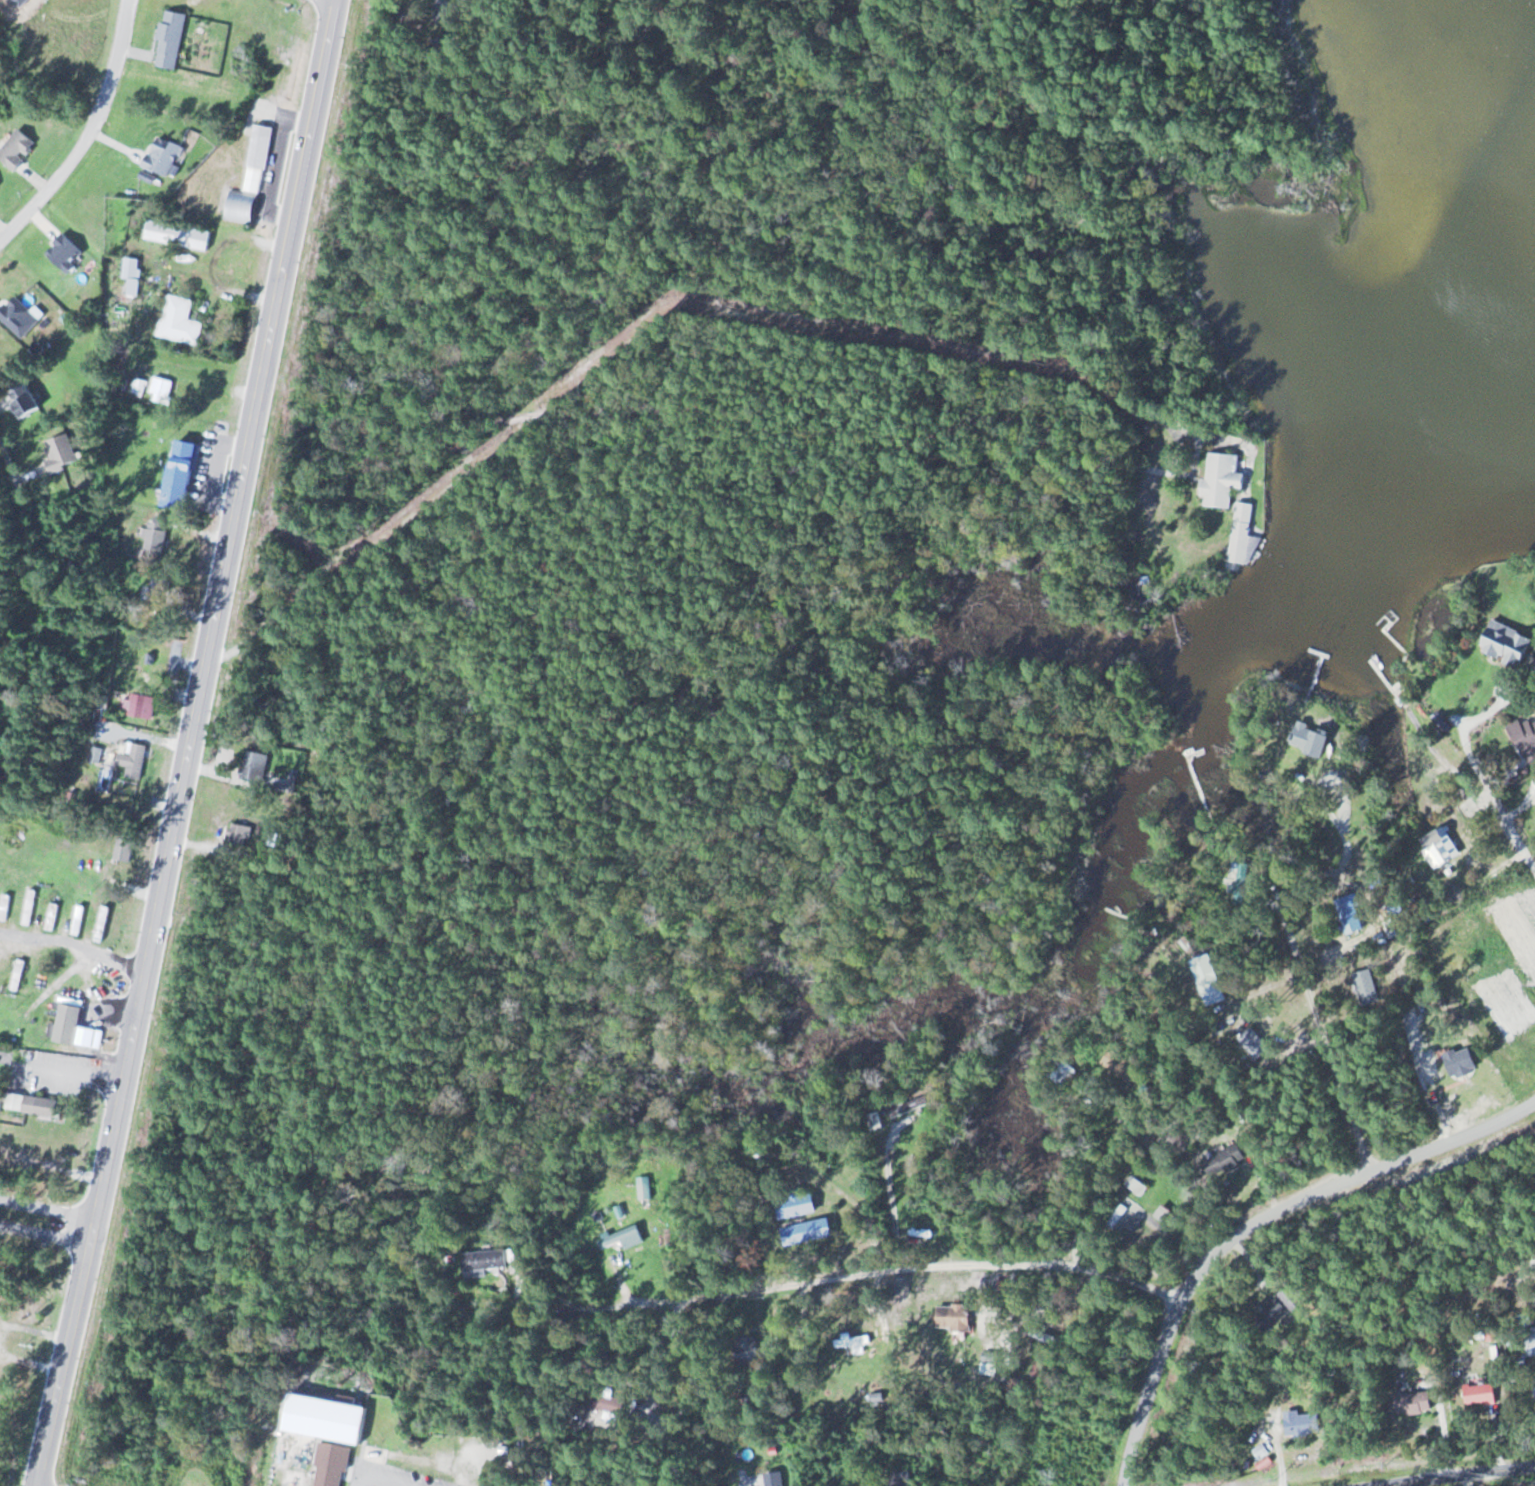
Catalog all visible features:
building: (174, 38)
road: (91, 135)
building: (164, 154)
building: (252, 180)
building: (181, 234)
building: (67, 251)
building: (129, 266)
road: (696, 279)
building: (19, 317)
building: (181, 320)
building: (32, 400)
building: (186, 469)
building: (1218, 483)
building: (1241, 536)
building: (157, 537)
road: (36, 554)
building: (1501, 644)
building: (143, 704)
building: (1523, 737)
building: (1305, 739)
road: (192, 745)
building: (134, 758)
building: (1534, 791)
road: (1503, 808)
building: (239, 832)
building: (1436, 847)
building: (127, 848)
building: (31, 906)
building: (5, 907)
building: (1347, 914)
building: (54, 916)
building: (80, 919)
building: (104, 923)
road: (75, 948)
building: (0, 959)
building: (20, 977)
building: (1205, 980)
building: (1363, 987)
building: (72, 1023)
road: (1321, 1033)
building: (1251, 1039)
building: (1456, 1062)
building: (1118, 1064)
building: (1061, 1075)
building: (44, 1106)
building: (906, 1108)
building: (873, 1122)
building: (1222, 1161)
building: (793, 1205)
building: (1124, 1218)
road: (47, 1224)
road: (1259, 1225)
building: (803, 1233)
building: (625, 1239)
building: (483, 1261)
road: (888, 1271)
building: (1266, 1313)
building: (948, 1317)
building: (744, 1350)
building: (1533, 1386)
building: (1477, 1394)
building: (600, 1402)
building: (1410, 1403)
building: (320, 1419)
building: (1296, 1424)
building: (327, 1465)
road: (1462, 1476)
building: (896, 1479)
road: (1483, 1480)

